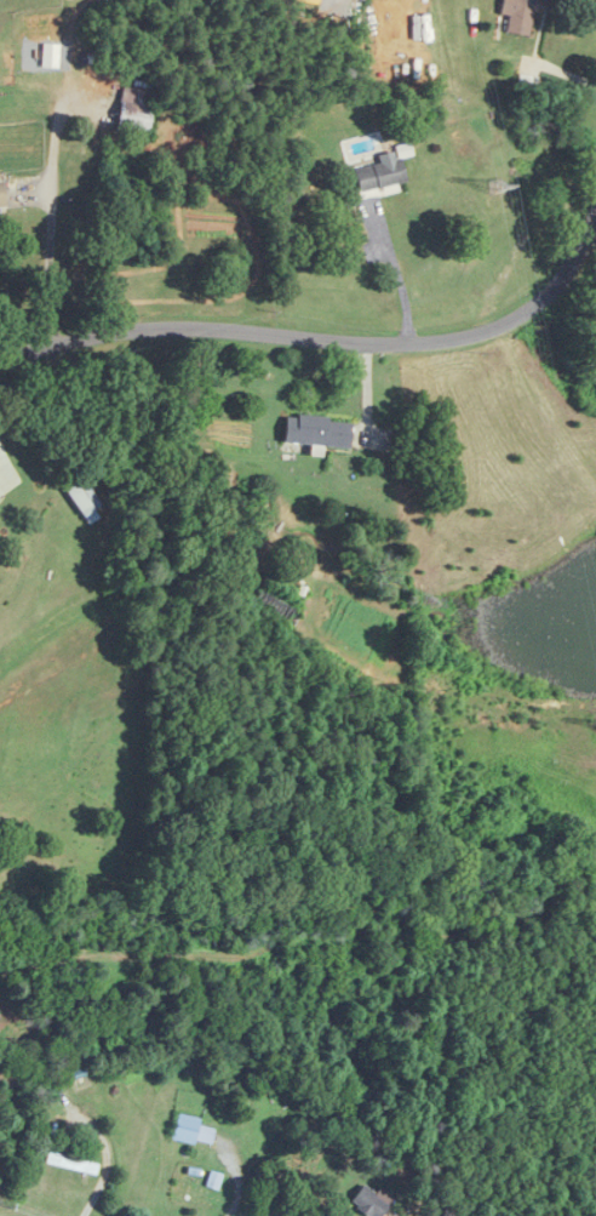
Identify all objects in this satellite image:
building: (520, 17)
building: (36, 47)
building: (526, 84)
building: (133, 112)
building: (380, 173)
power tower: (489, 177)
building: (11, 199)
road: (50, 261)
road: (395, 273)
road: (322, 335)
building: (316, 434)
road: (1, 469)
building: (84, 501)
building: (276, 609)
building: (5, 1130)
building: (194, 1131)
building: (70, 1164)
road: (235, 1183)
building: (369, 1201)

